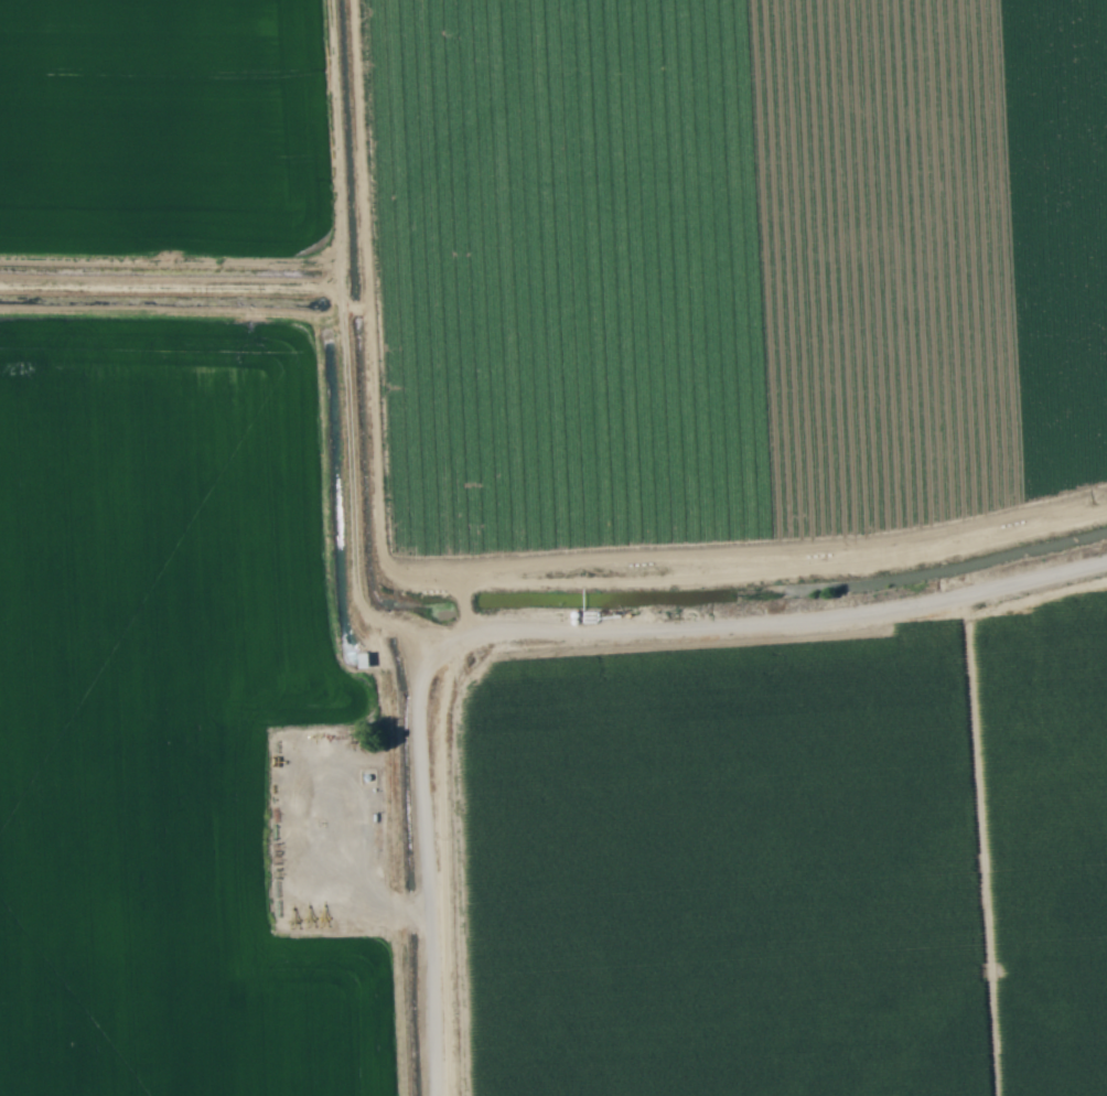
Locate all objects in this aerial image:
road: (345, 318)
road: (743, 610)
road: (428, 864)

